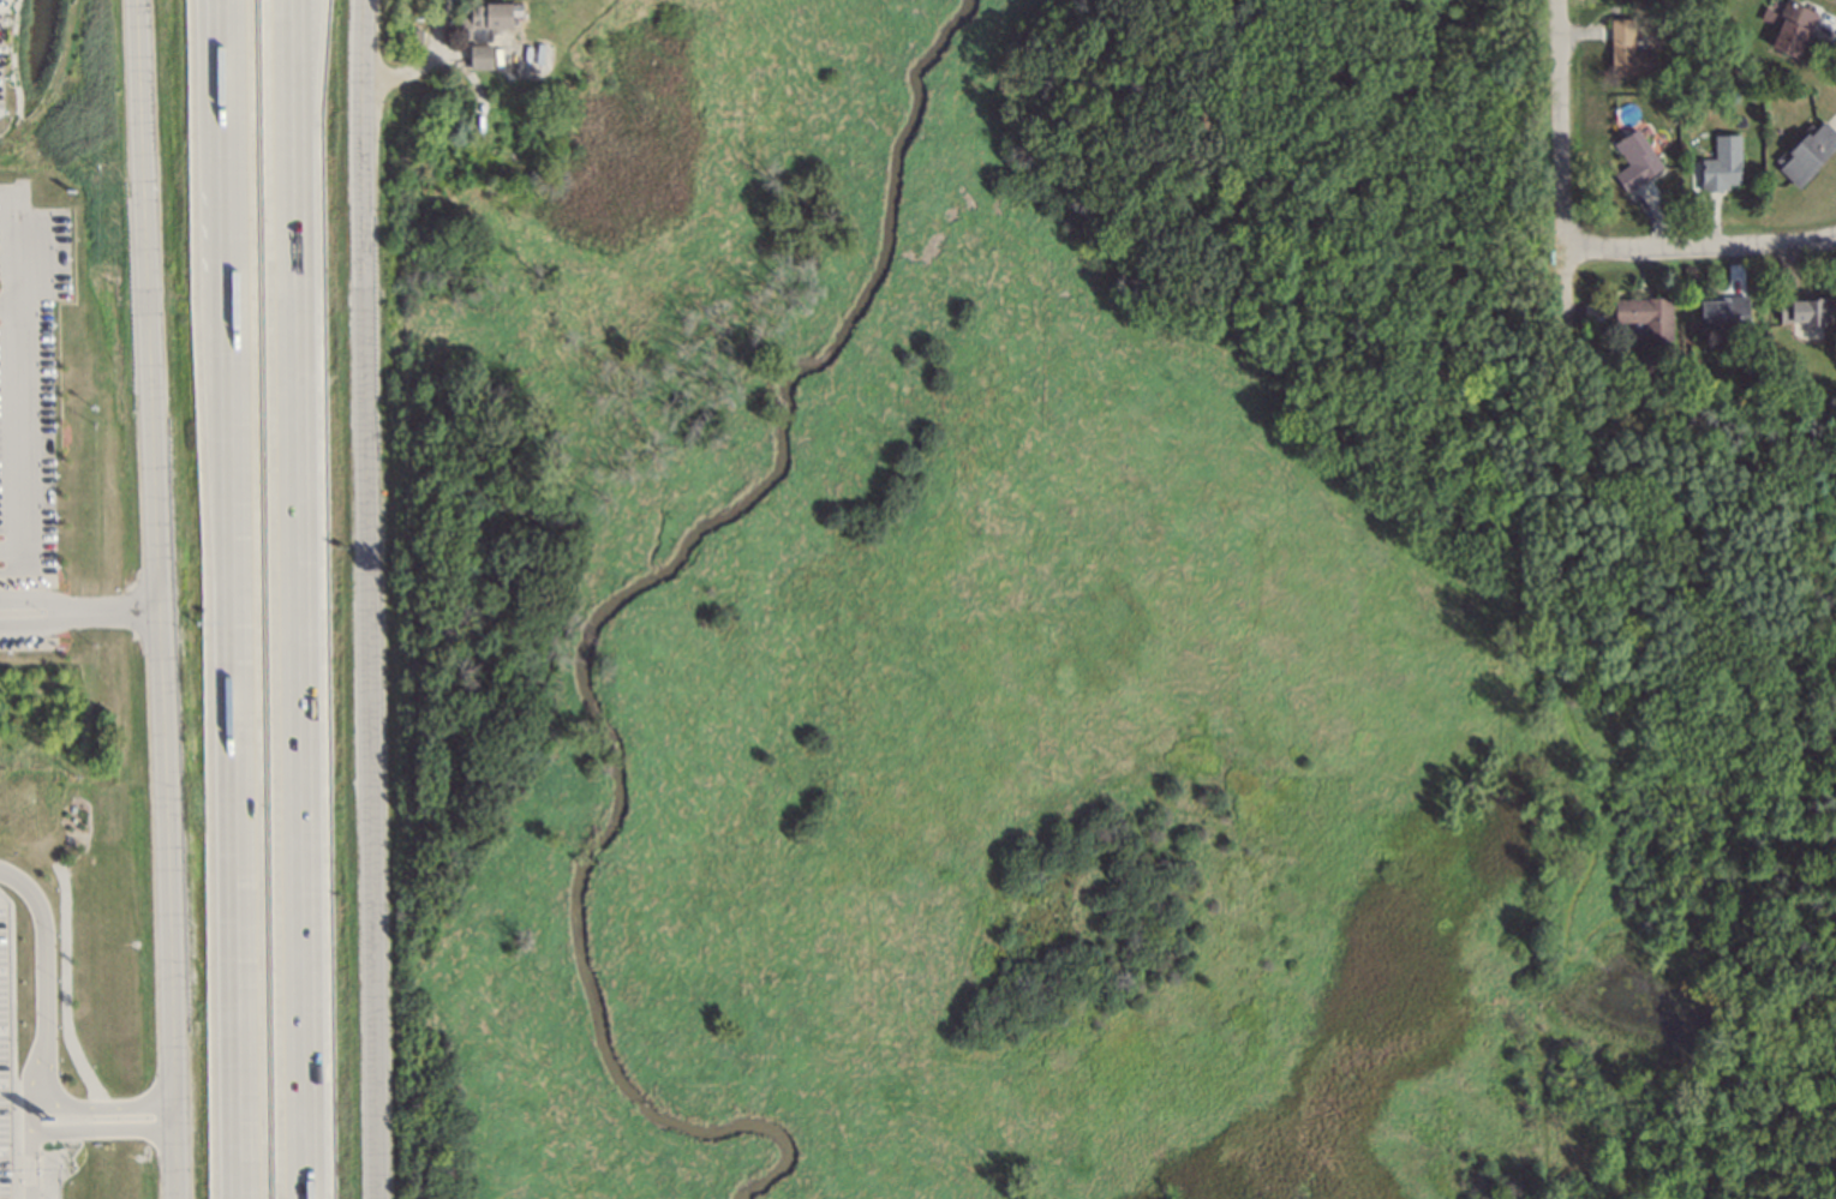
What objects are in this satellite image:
building: (485, 19)
building: (1787, 25)
building: (1626, 50)
building: (478, 55)
building: (509, 55)
road: (425, 56)
building: (1667, 101)
building: (1805, 150)
building: (1632, 160)
building: (1718, 162)
road: (1566, 163)
road: (1703, 238)
building: (1805, 307)
building: (1721, 312)
building: (1644, 313)
road: (17, 431)
road: (165, 599)
road: (234, 599)
road: (294, 599)
road: (381, 599)
road: (83, 621)
road: (41, 957)
road: (92, 1104)
road: (65, 1131)
road: (25, 1163)

